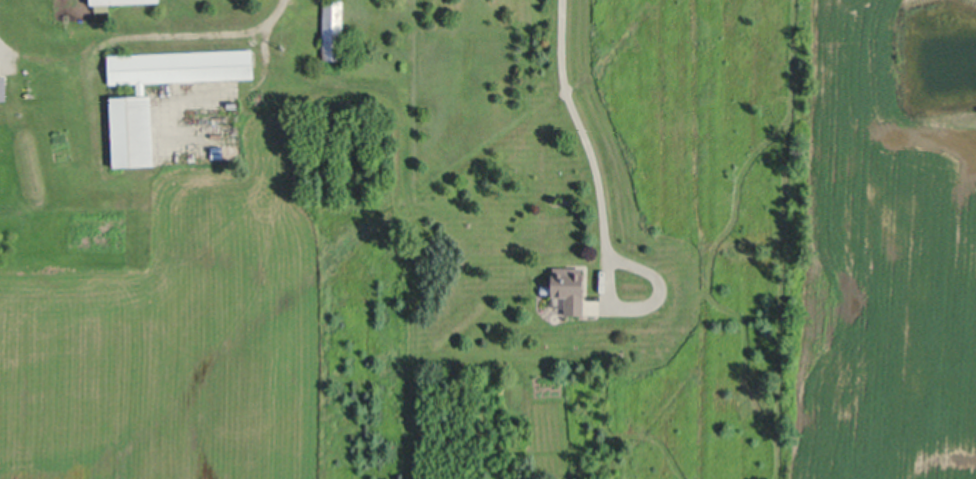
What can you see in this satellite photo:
building: (109, 1)
building: (334, 29)
road: (213, 33)
building: (3, 85)
road: (577, 127)
building: (134, 130)
building: (569, 287)
road: (647, 304)

